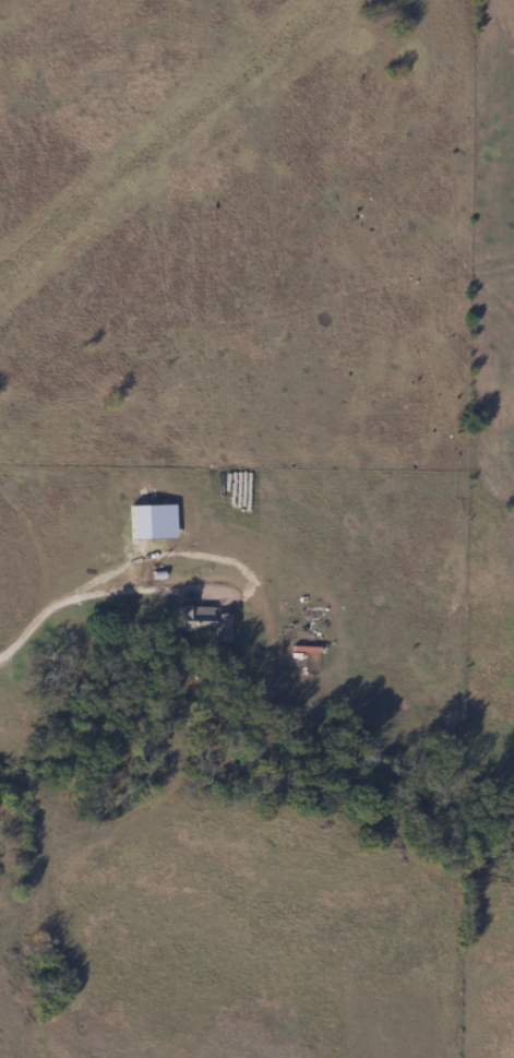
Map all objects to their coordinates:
road: (79, 599)
building: (204, 622)

